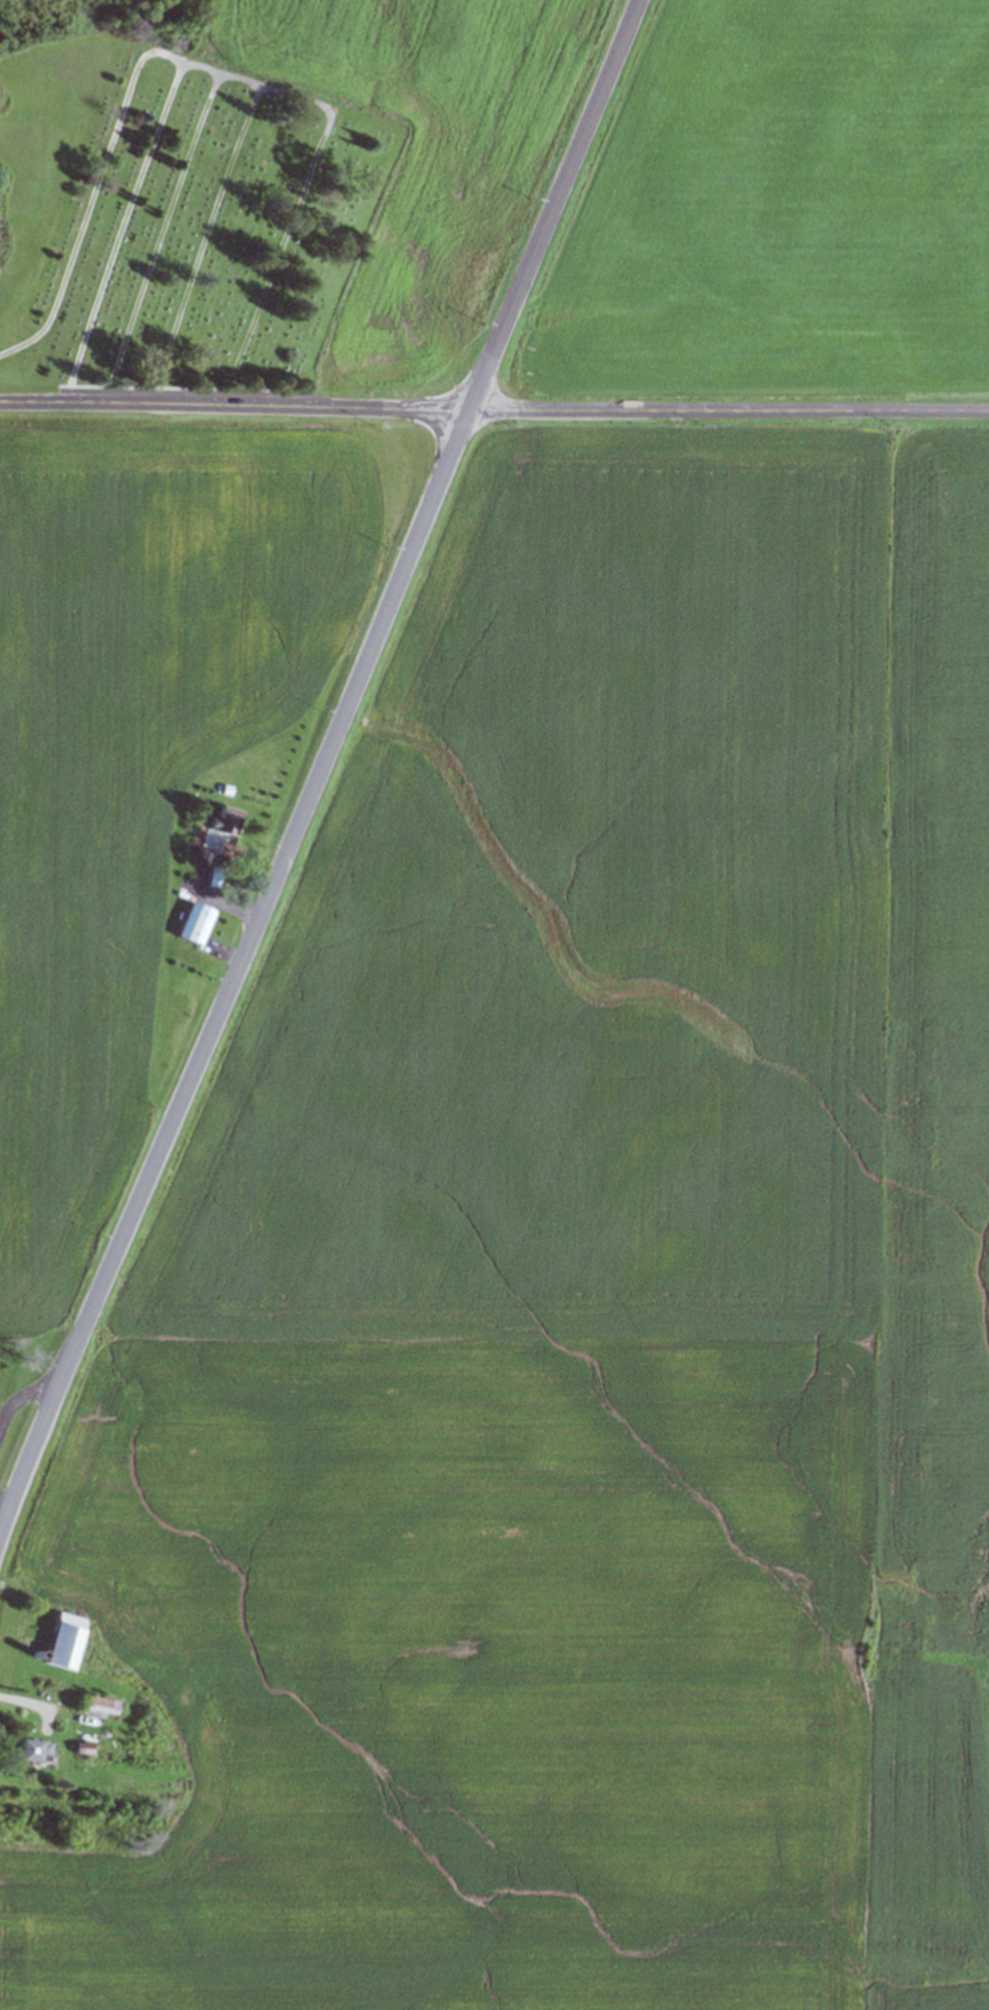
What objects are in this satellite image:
road: (494, 409)
road: (321, 763)
building: (222, 820)
building: (190, 924)
road: (18, 1394)
road: (1, 1515)
building: (60, 1640)
building: (97, 1707)
building: (31, 1750)

